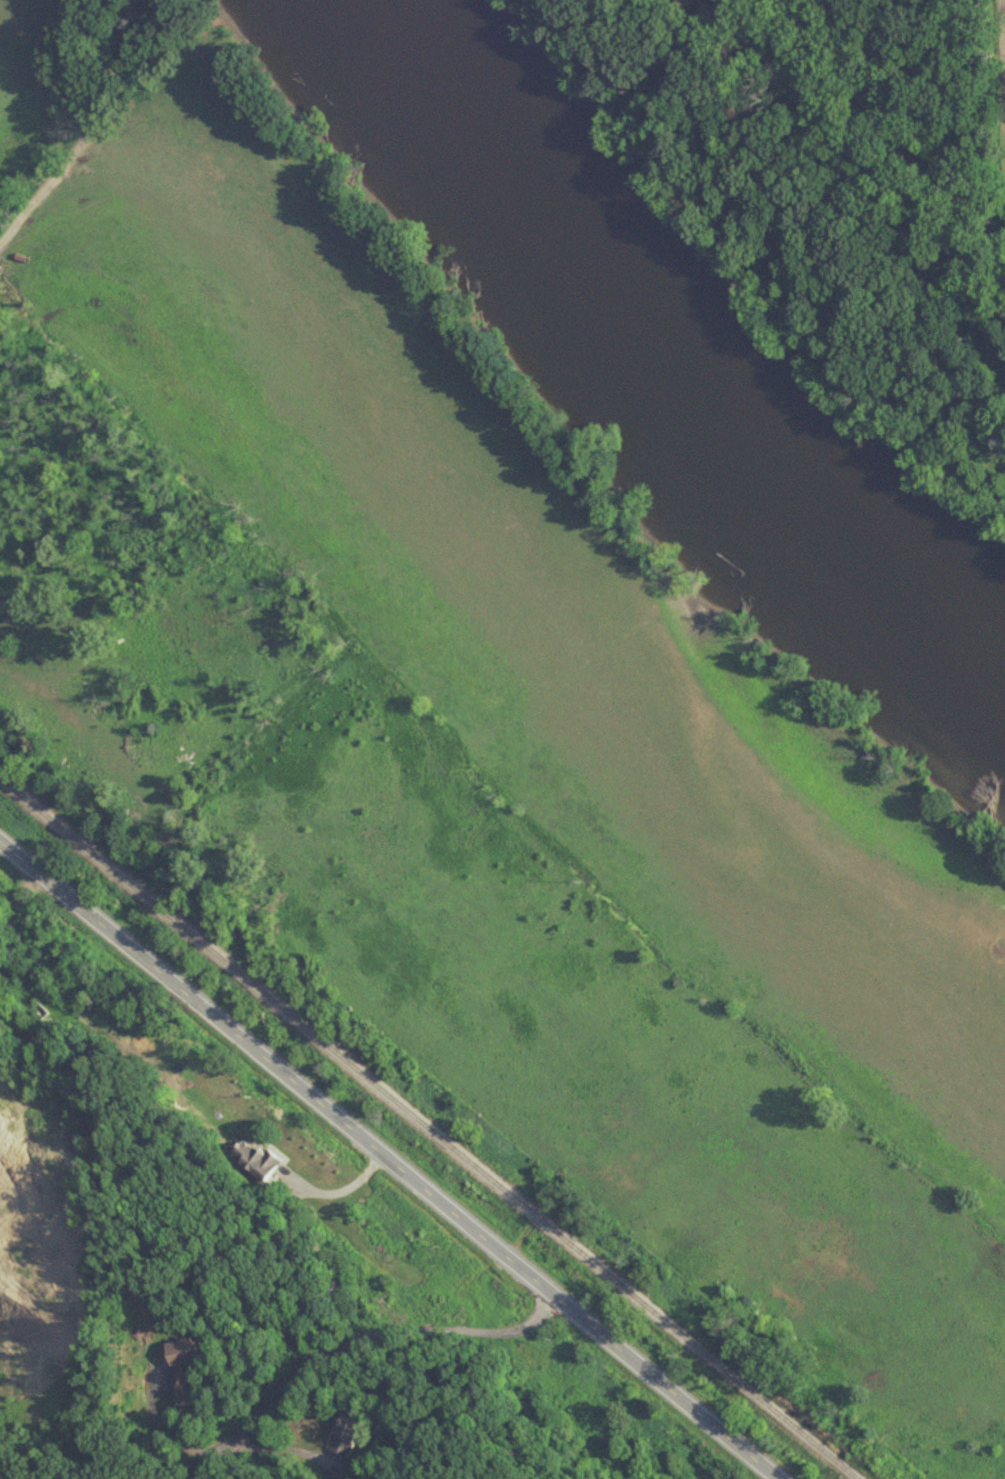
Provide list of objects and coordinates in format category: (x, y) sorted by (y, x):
river: (673, 359)
railway: (420, 1130)
building: (256, 1160)
road: (389, 1160)
road: (339, 1191)
road: (318, 1357)
building: (179, 1363)
building: (347, 1433)

